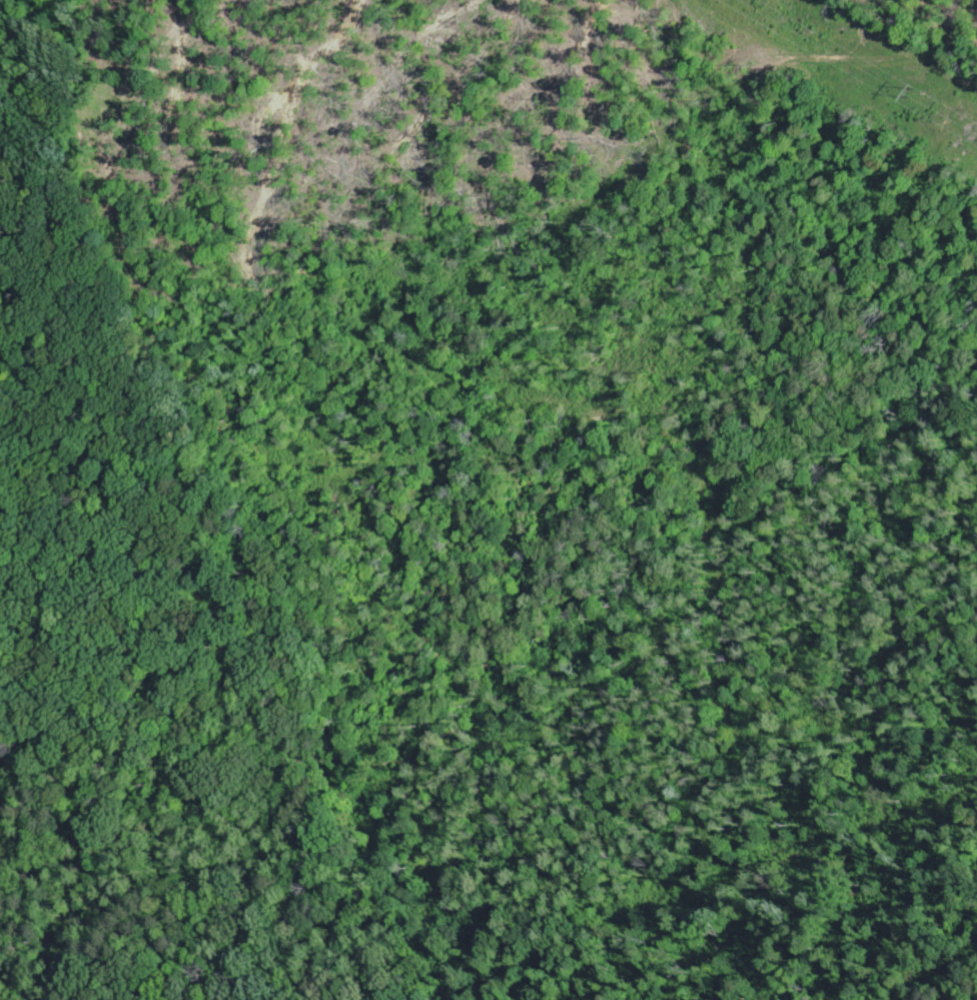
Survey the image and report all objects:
power tower: (911, 91)

